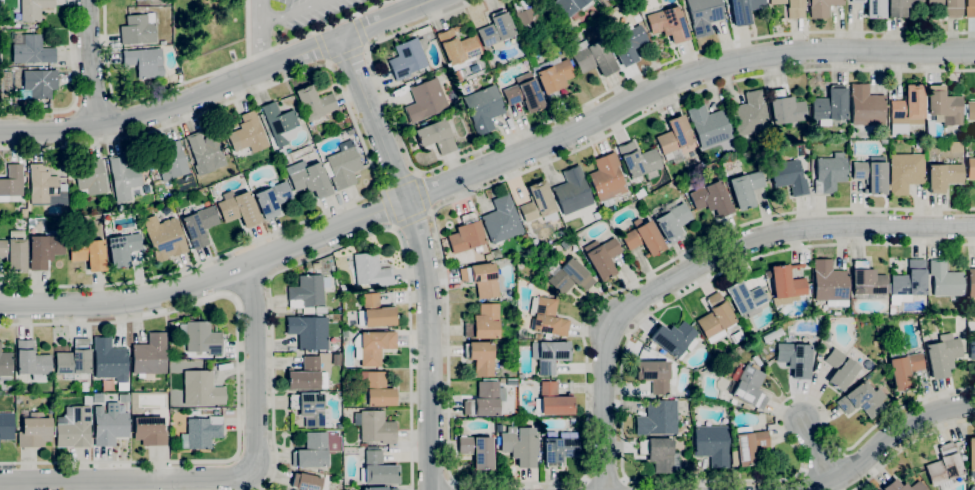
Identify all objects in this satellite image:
building: (605, 0)
road: (410, 4)
building: (570, 7)
building: (791, 7)
building: (898, 7)
building: (948, 7)
building: (822, 8)
building: (873, 8)
building: (969, 8)
building: (34, 9)
building: (744, 10)
road: (290, 13)
building: (703, 15)
building: (531, 17)
building: (667, 23)
building: (137, 30)
road: (360, 30)
building: (496, 30)
road: (258, 34)
building: (627, 43)
road: (322, 46)
building: (458, 48)
building: (31, 50)
road: (347, 55)
building: (592, 57)
building: (408, 58)
road: (94, 62)
building: (144, 62)
road: (208, 74)
building: (457, 76)
building: (552, 77)
building: (40, 83)
road: (220, 86)
road: (75, 90)
building: (523, 93)
building: (425, 100)
building: (314, 103)
road: (95, 104)
building: (829, 106)
building: (866, 106)
building: (908, 106)
building: (943, 106)
building: (483, 108)
building: (785, 108)
road: (569, 111)
building: (970, 111)
building: (750, 114)
building: (346, 120)
building: (280, 124)
building: (708, 126)
building: (350, 132)
building: (247, 134)
building: (437, 136)
building: (674, 139)
road: (532, 146)
road: (365, 149)
building: (280, 152)
building: (205, 153)
building: (639, 160)
building: (171, 162)
building: (343, 165)
building: (970, 168)
building: (905, 172)
building: (828, 173)
building: (871, 174)
building: (943, 176)
building: (91, 177)
building: (788, 177)
building: (123, 178)
building: (308, 178)
building: (606, 179)
road: (397, 180)
building: (11, 182)
building: (45, 187)
building: (745, 188)
road: (424, 190)
building: (571, 191)
building: (272, 198)
building: (710, 198)
building: (537, 202)
building: (118, 208)
road: (386, 208)
building: (239, 209)
building: (164, 210)
road: (412, 219)
building: (670, 219)
building: (501, 220)
building: (31, 222)
building: (199, 225)
building: (466, 234)
building: (164, 237)
building: (525, 237)
building: (643, 238)
building: (534, 241)
road: (351, 242)
building: (122, 249)
building: (43, 250)
building: (88, 252)
building: (14, 253)
road: (420, 256)
building: (601, 257)
road: (703, 260)
building: (370, 270)
building: (766, 273)
building: (570, 277)
building: (481, 279)
building: (944, 279)
building: (909, 281)
building: (867, 282)
building: (829, 283)
building: (971, 283)
building: (785, 284)
building: (307, 292)
building: (745, 298)
road: (50, 303)
building: (814, 306)
building: (375, 312)
building: (886, 313)
building: (546, 317)
road: (645, 318)
building: (715, 318)
building: (484, 323)
building: (308, 332)
building: (344, 334)
building: (771, 335)
building: (201, 337)
building: (736, 337)
building: (674, 339)
building: (372, 347)
building: (971, 350)
building: (150, 355)
building: (548, 355)
building: (942, 355)
building: (480, 357)
building: (109, 359)
building: (794, 359)
building: (31, 360)
building: (73, 360)
building: (755, 361)
building: (5, 364)
building: (839, 369)
building: (904, 370)
building: (305, 374)
building: (655, 374)
building: (520, 376)
road: (238, 378)
building: (500, 380)
building: (84, 386)
building: (748, 387)
building: (201, 388)
building: (376, 389)
building: (483, 400)
building: (862, 400)
building: (552, 401)
building: (732, 401)
building: (311, 409)
road: (448, 416)
building: (657, 418)
building: (109, 424)
building: (6, 426)
building: (374, 426)
building: (74, 427)
building: (34, 430)
building: (149, 431)
building: (201, 432)
road: (889, 438)
building: (363, 444)
building: (711, 444)
road: (832, 444)
building: (747, 445)
road: (908, 445)
building: (520, 446)
building: (559, 449)
building: (311, 451)
building: (477, 451)
road: (815, 451)
building: (658, 453)
building: (971, 456)
building: (944, 467)
building: (376, 468)
road: (605, 479)
road: (234, 480)
building: (306, 481)
road: (453, 486)
building: (902, 486)
building: (378, 488)

